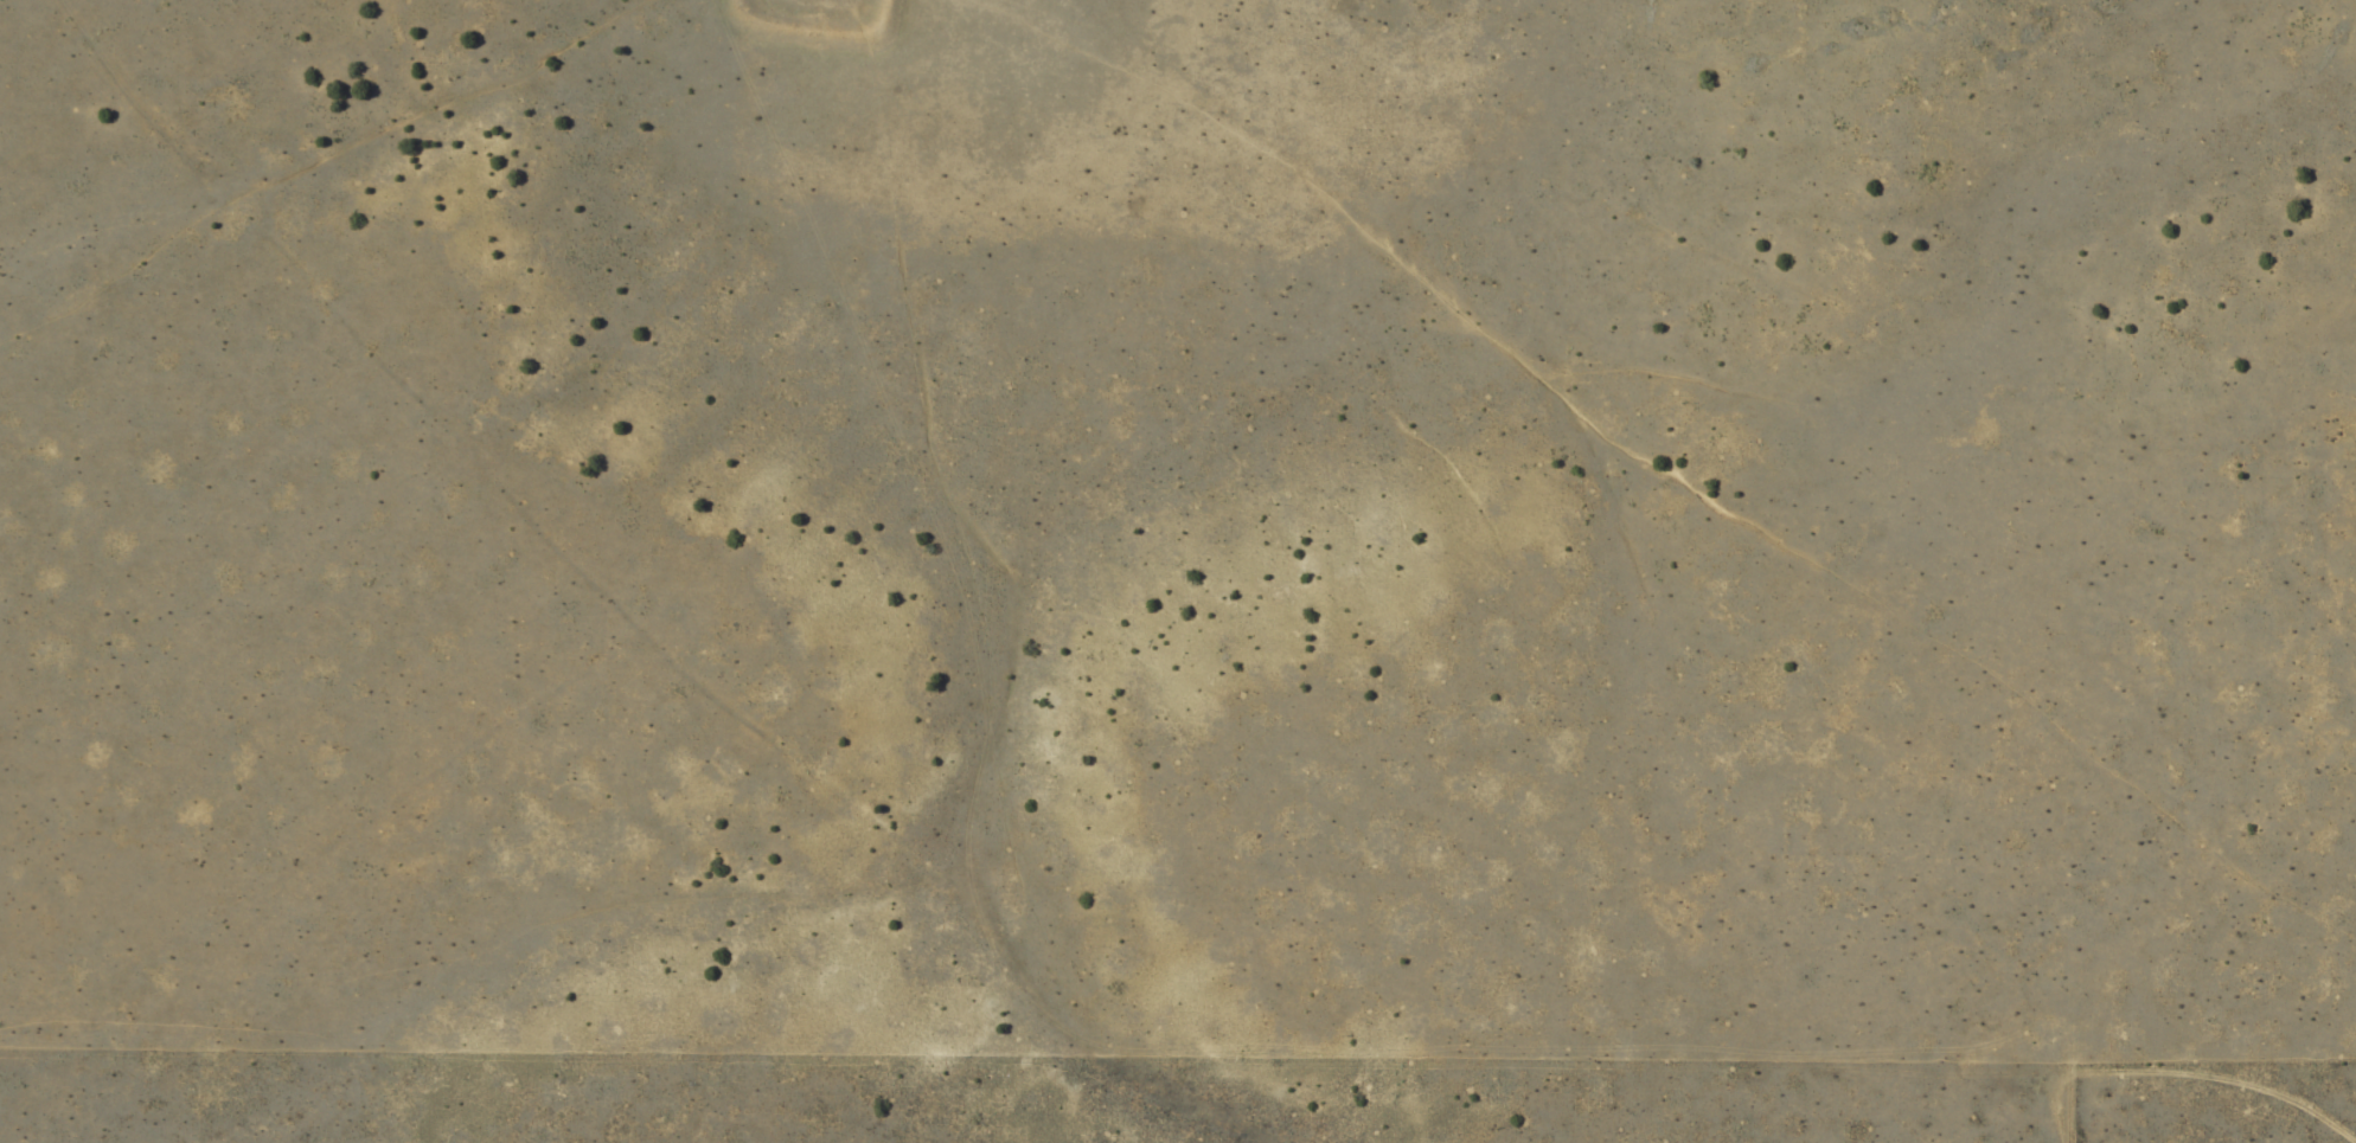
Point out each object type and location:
road: (2216, 1079)
road: (2064, 1109)

